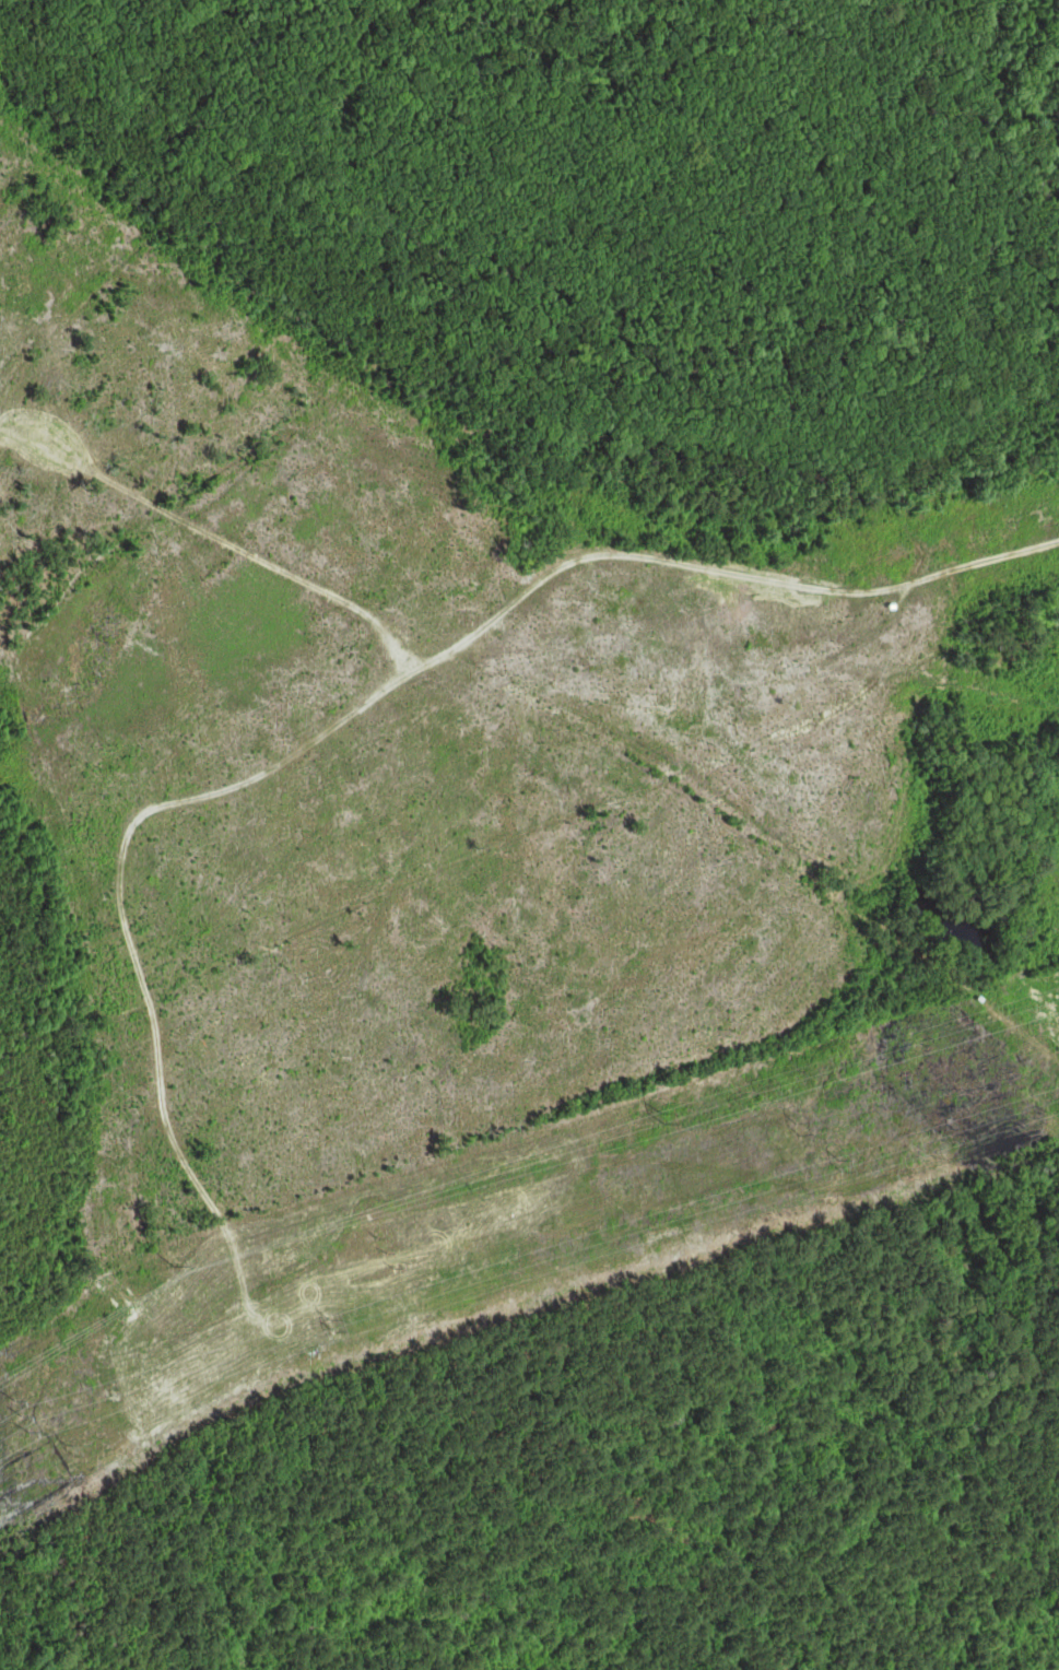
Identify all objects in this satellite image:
power tower: (664, 1118)
power tower: (797, 1129)
power tower: (843, 1169)
power tower: (388, 1255)
power tower: (175, 1266)
power tower: (334, 1330)
power tower: (22, 1414)
power tower: (74, 1454)

